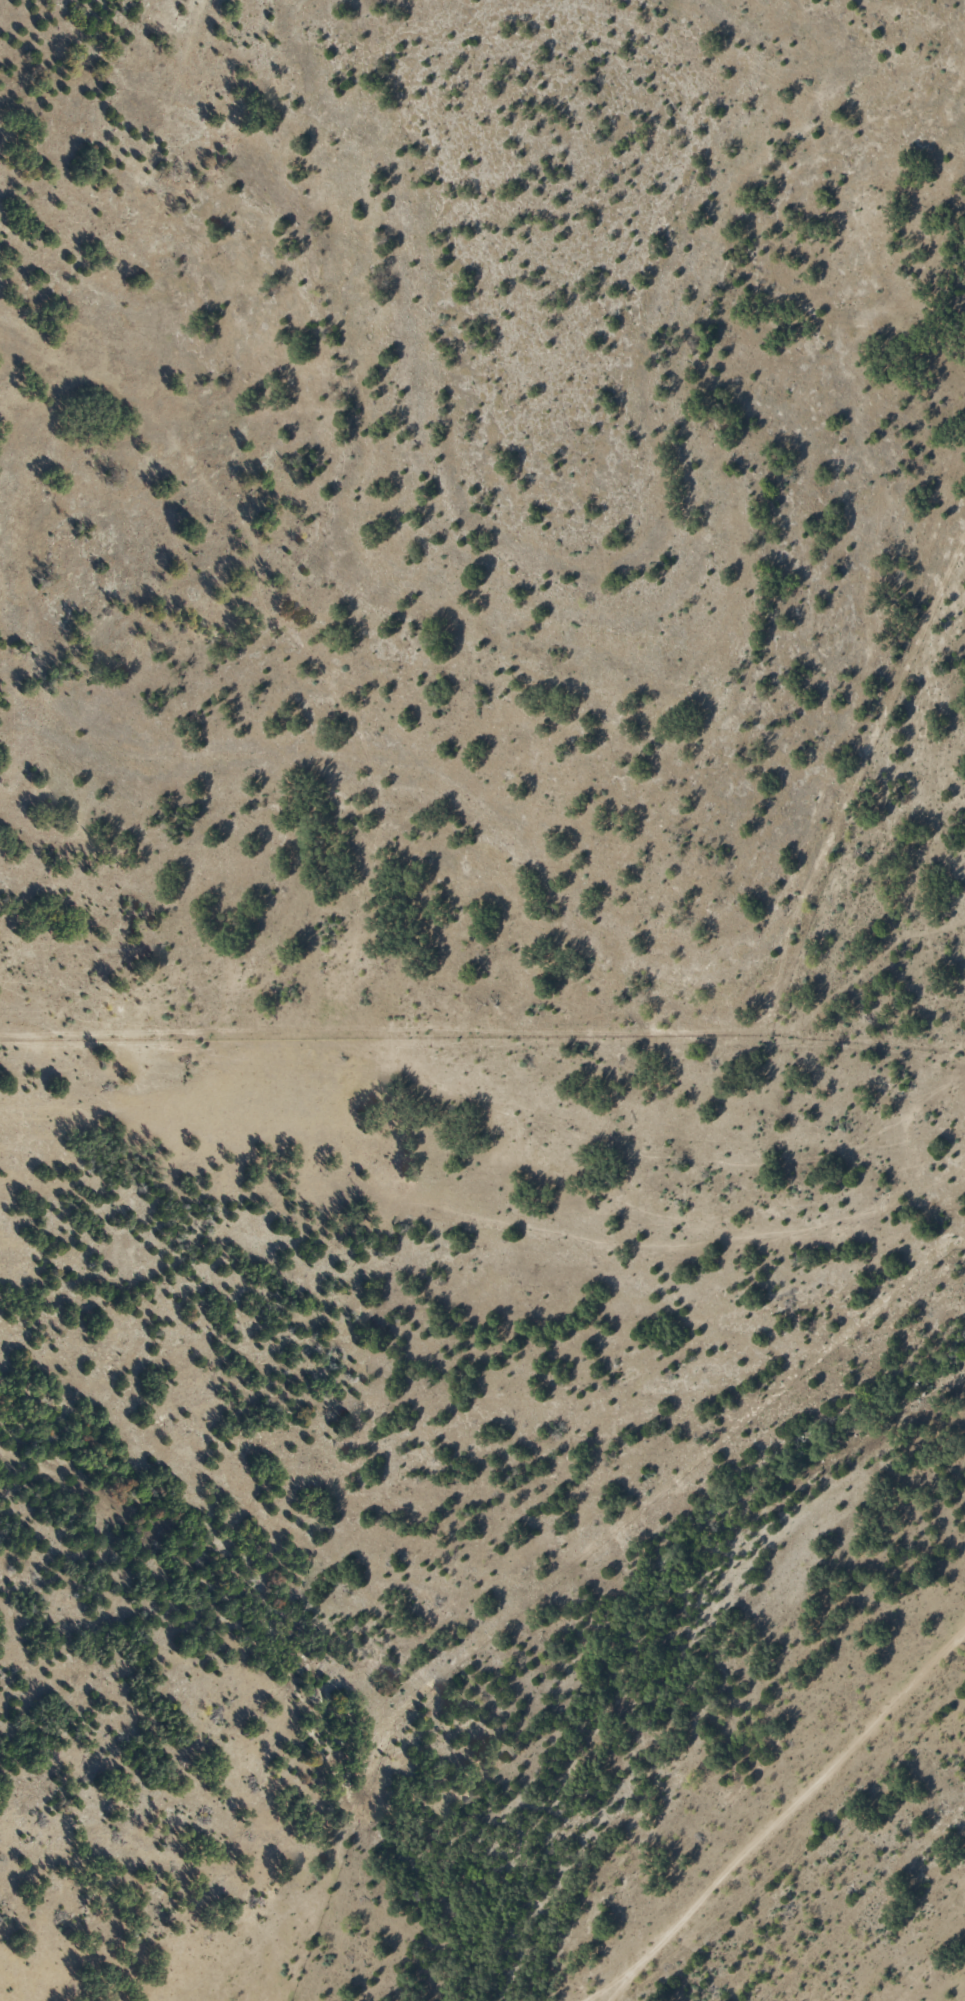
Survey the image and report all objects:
road: (788, 1806)

